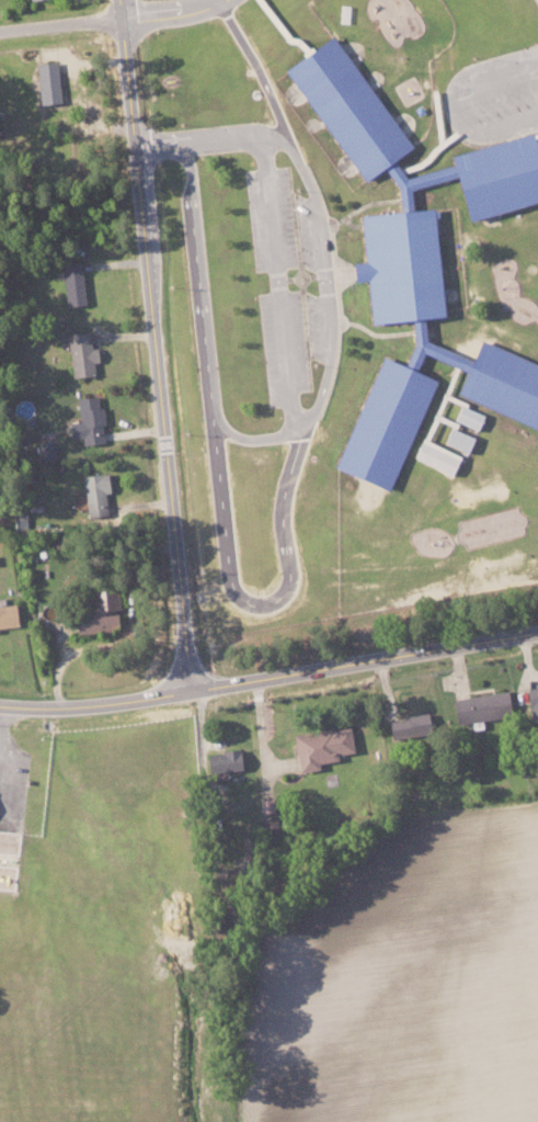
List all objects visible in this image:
road: (170, 9)
road: (61, 22)
building: (46, 81)
building: (340, 99)
road: (462, 106)
building: (71, 283)
road: (156, 344)
building: (80, 353)
road: (327, 387)
building: (467, 417)
building: (85, 421)
building: (458, 439)
building: (46, 450)
building: (437, 456)
building: (95, 612)
building: (7, 615)
road: (270, 676)
building: (531, 701)
building: (479, 706)
building: (408, 726)
building: (319, 747)
building: (221, 760)
building: (266, 805)
building: (266, 823)

